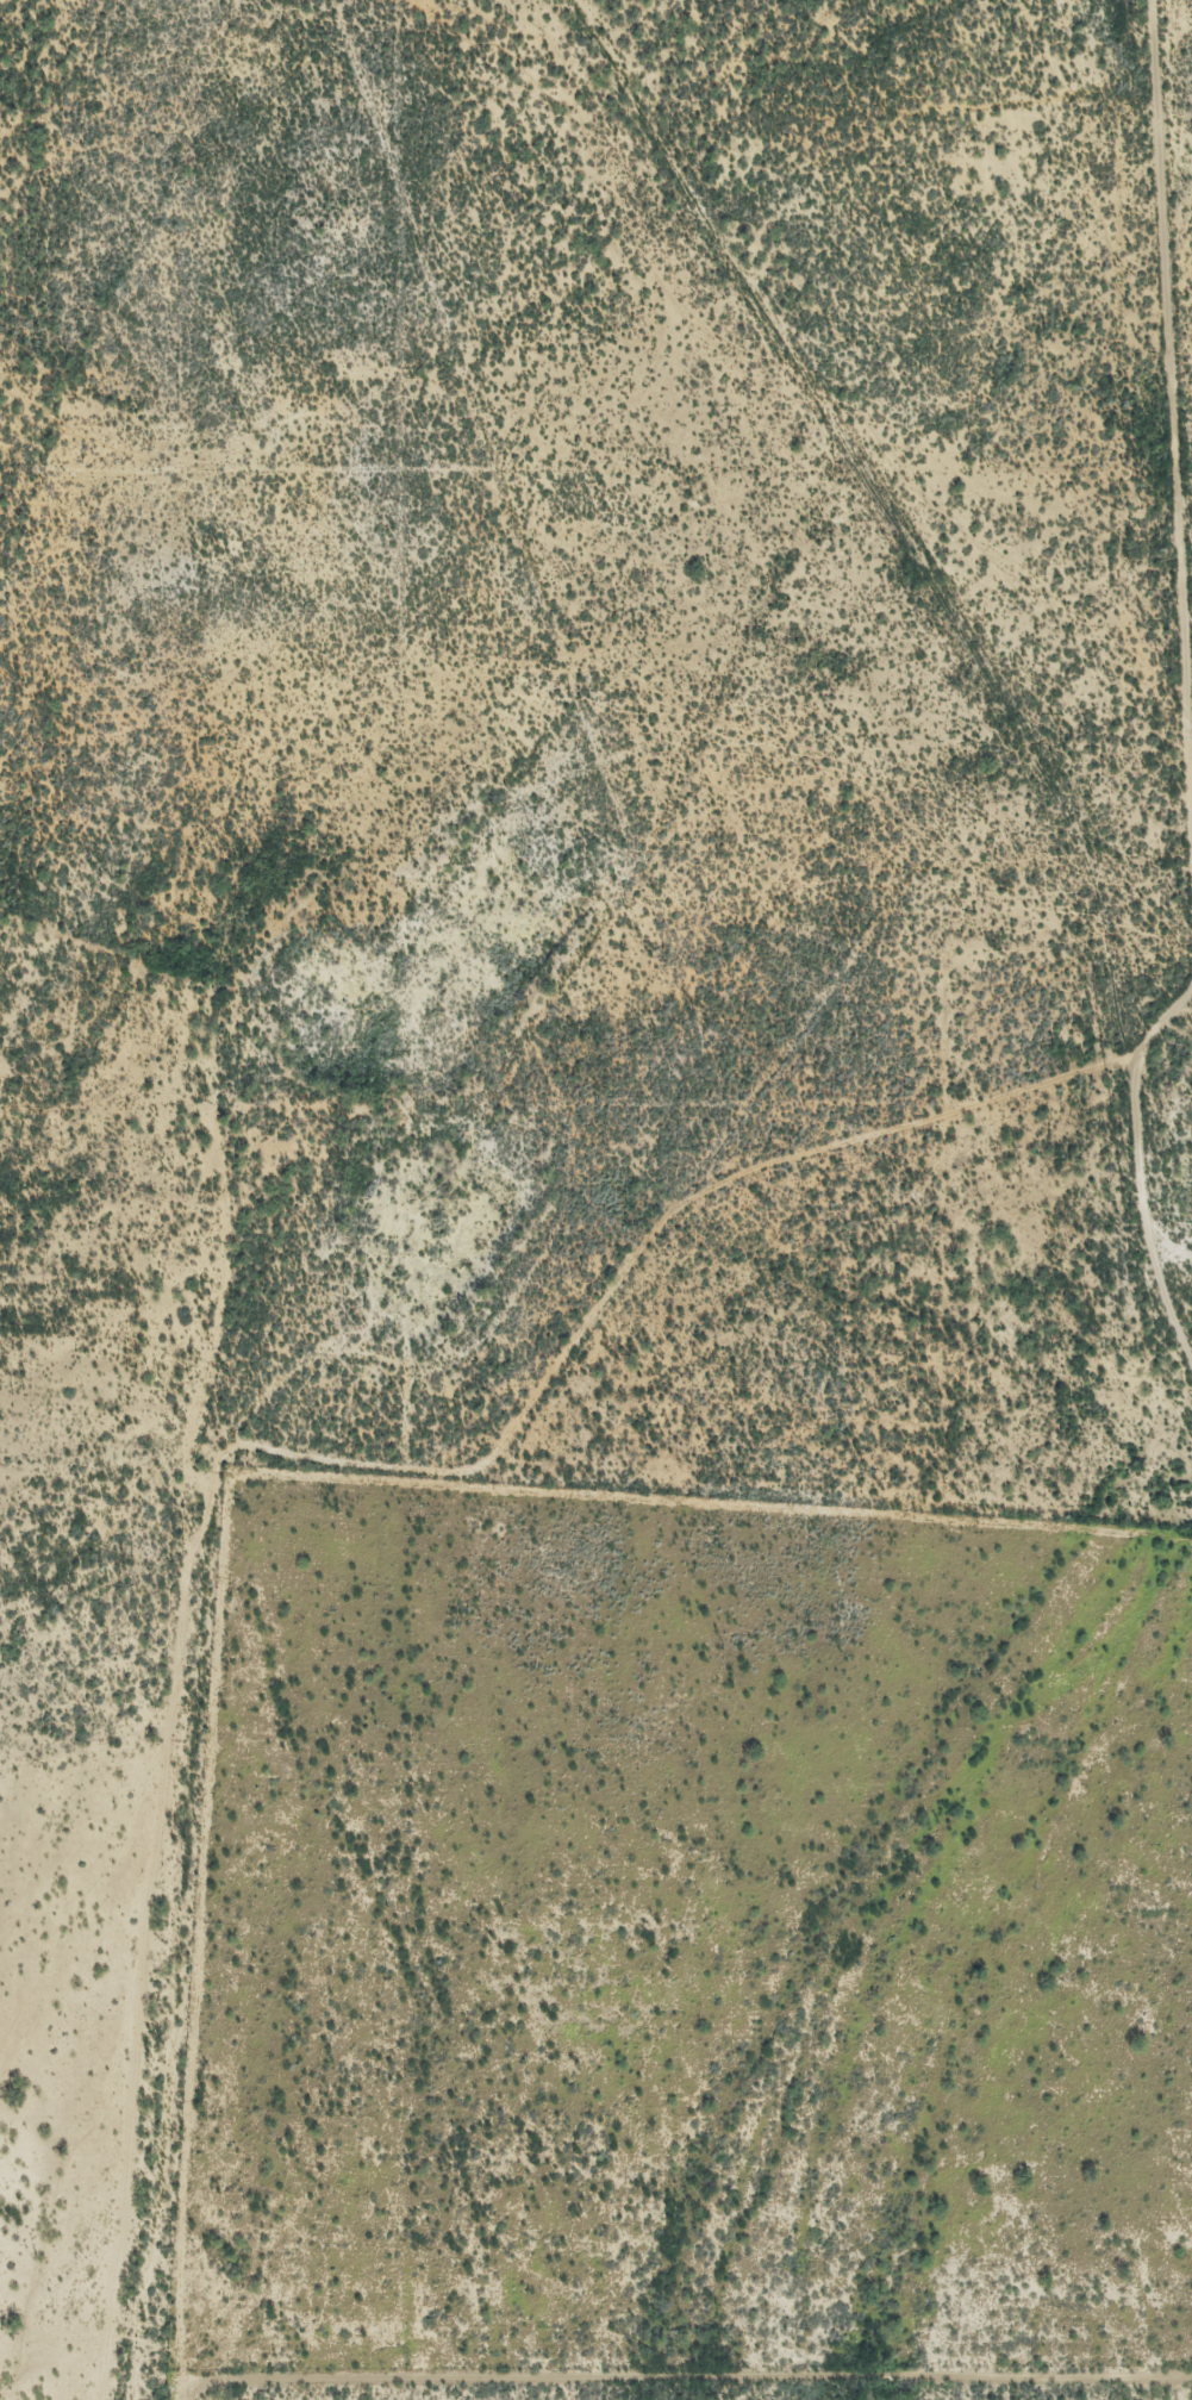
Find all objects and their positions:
road: (1169, 461)
road: (1135, 1172)

